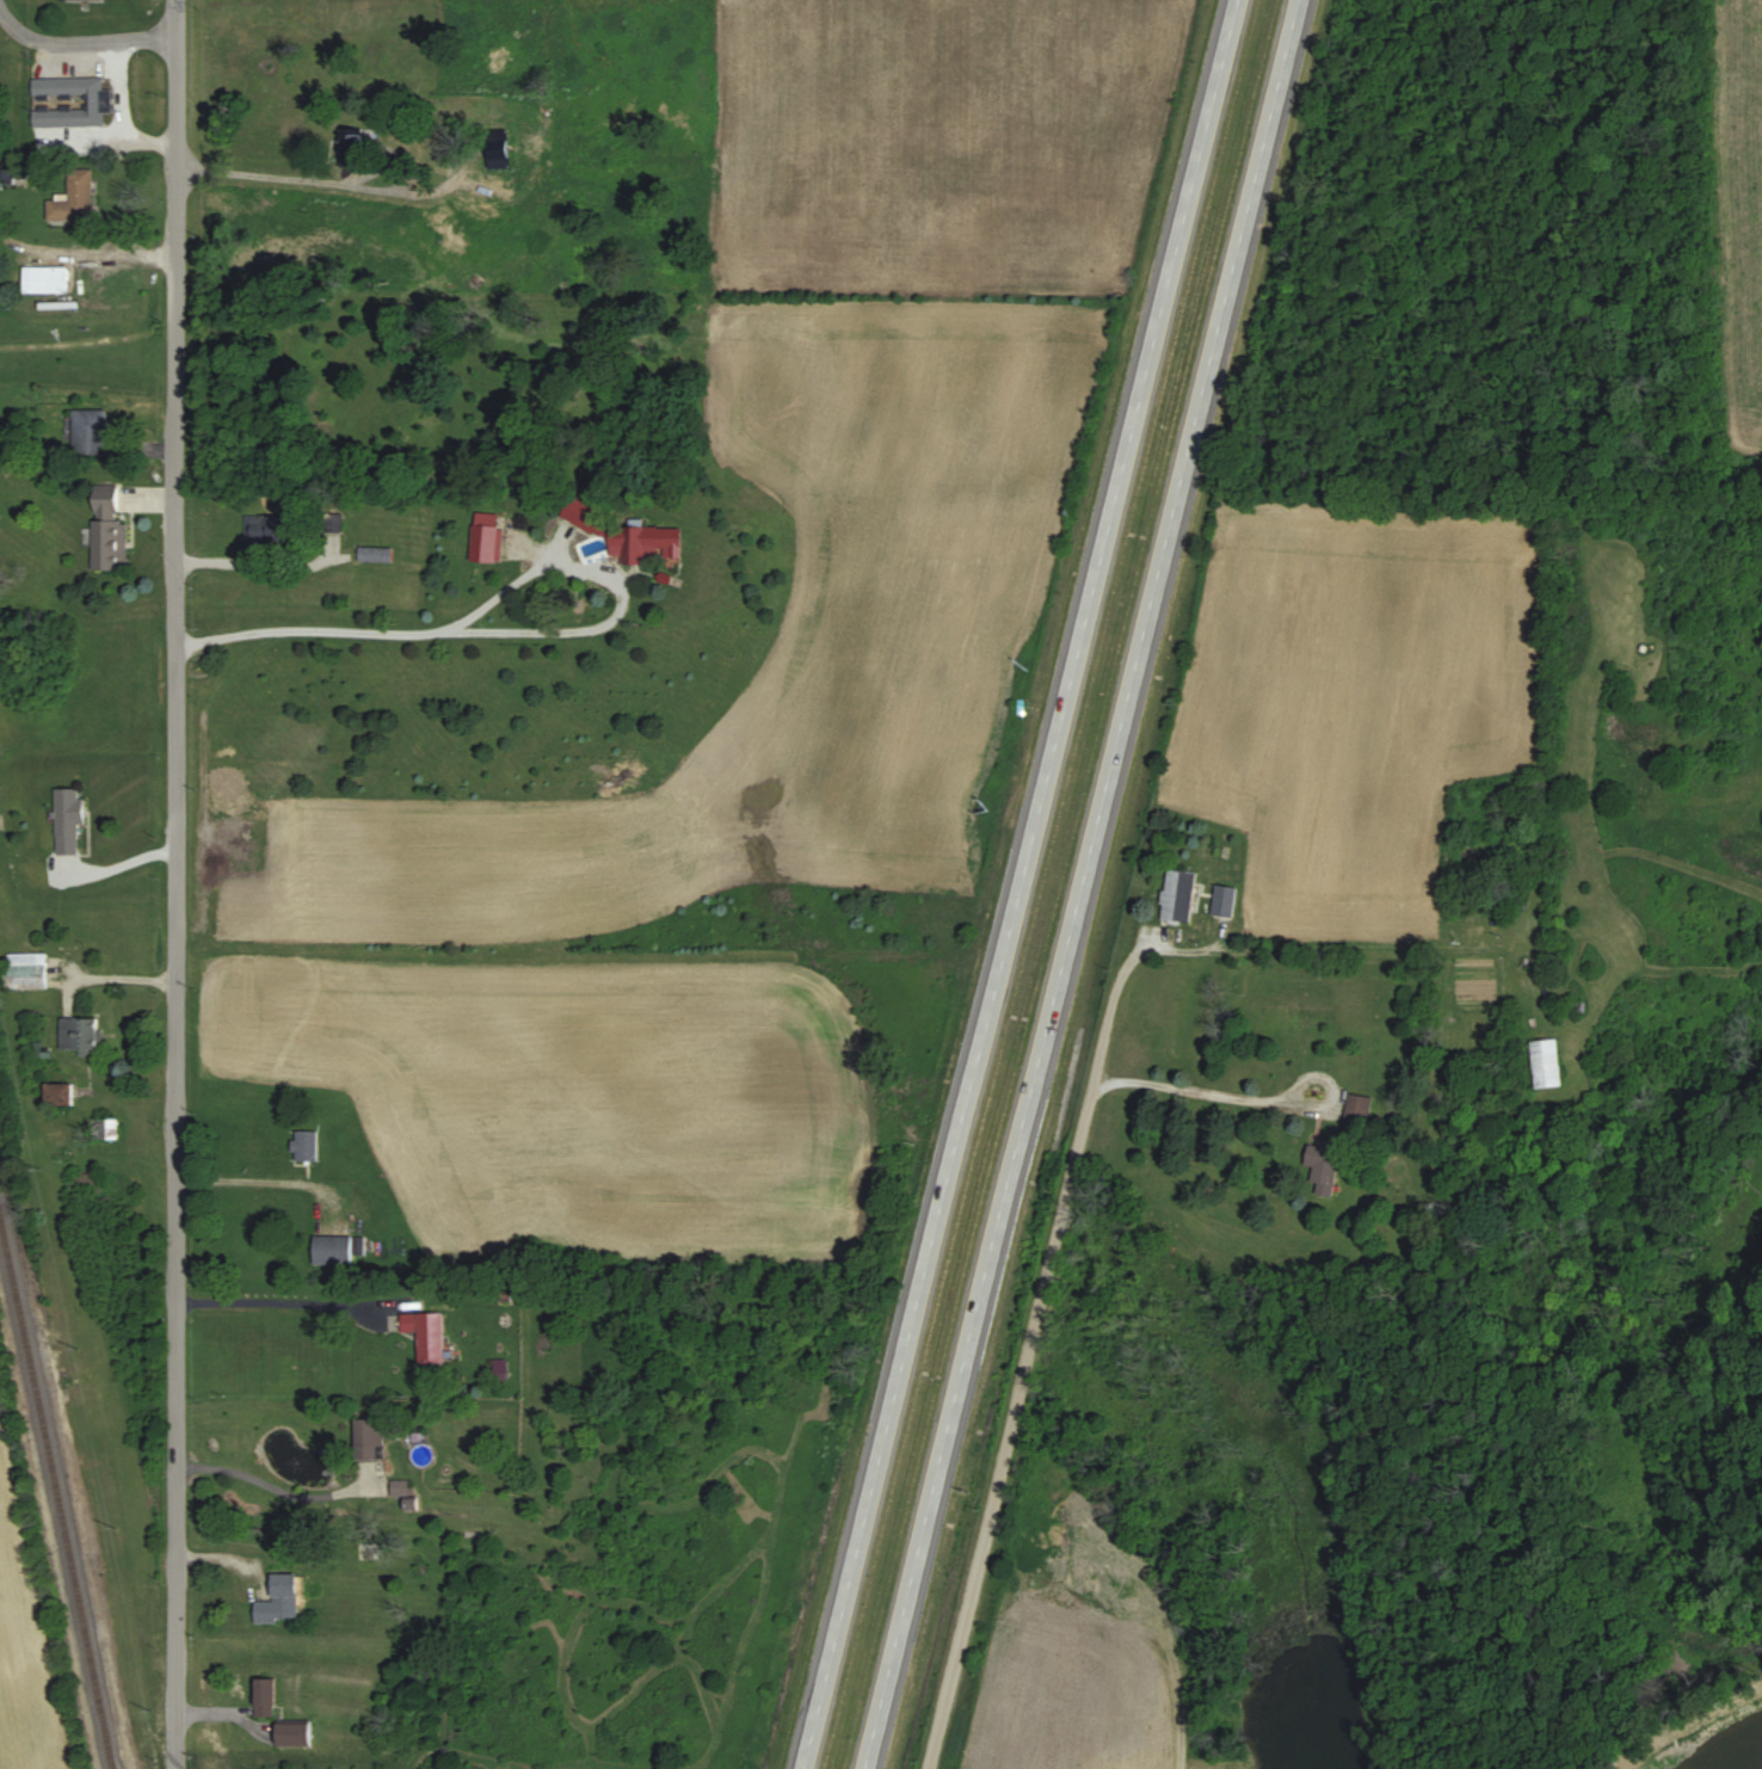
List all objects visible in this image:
building: (81, 0)
road: (82, 43)
building: (353, 142)
road: (309, 175)
building: (75, 201)
building: (47, 281)
building: (92, 432)
building: (583, 514)
building: (110, 536)
building: (488, 538)
building: (646, 542)
building: (377, 555)
road: (251, 565)
road: (513, 633)
building: (70, 820)
road: (1078, 883)
road: (177, 885)
road: (1016, 885)
building: (1179, 895)
building: (1225, 901)
building: (27, 972)
building: (80, 1034)
building: (1548, 1064)
building: (61, 1095)
road: (1240, 1099)
building: (308, 1146)
building: (1325, 1165)
road: (252, 1183)
building: (334, 1250)
road: (266, 1303)
building: (429, 1336)
road: (1031, 1346)
building: (370, 1440)
road: (261, 1475)
building: (401, 1488)
railway: (56, 1496)
building: (281, 1601)
building: (267, 1699)
building: (297, 1736)

